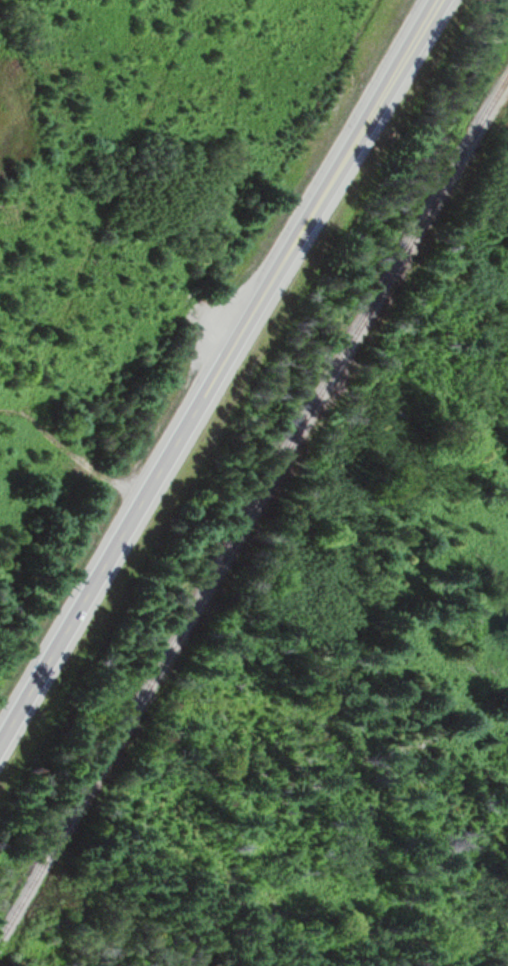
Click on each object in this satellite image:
road: (219, 369)
railway: (254, 511)

